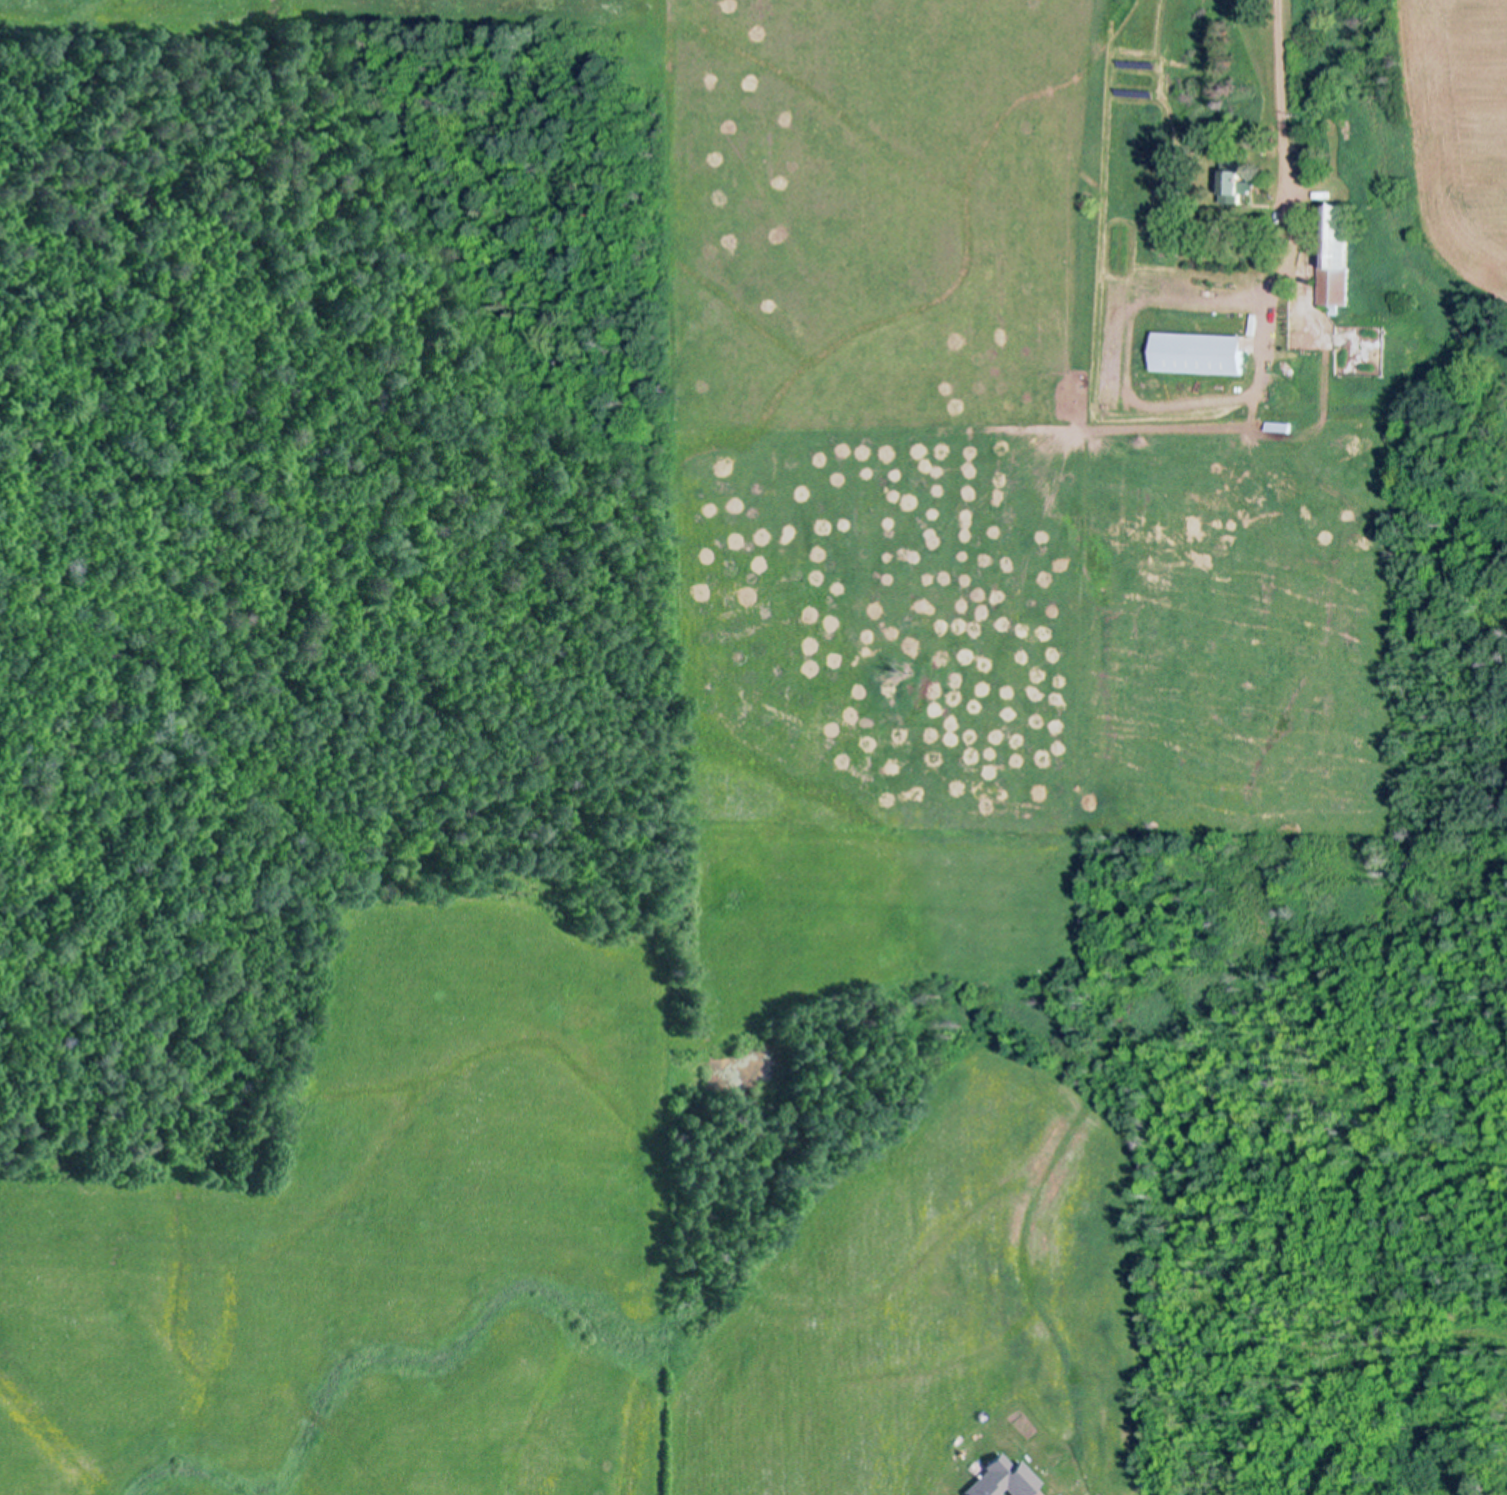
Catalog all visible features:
building: (1174, 136)
building: (1110, 139)
building: (1235, 181)
building: (1336, 252)
building: (1200, 351)
building: (1003, 1479)

